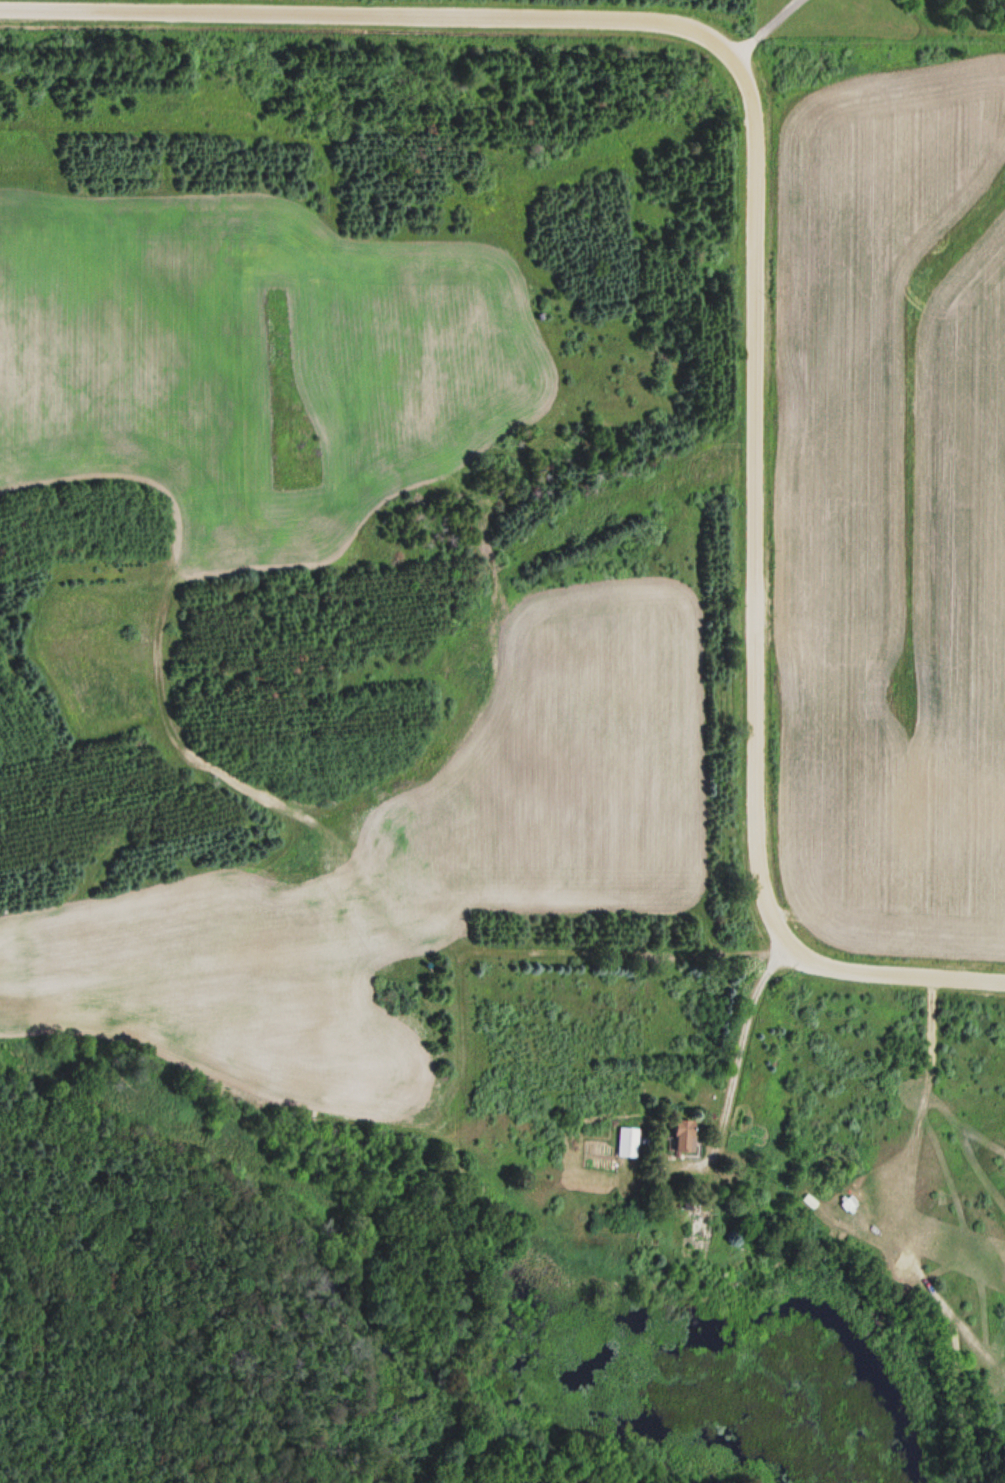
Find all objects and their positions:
road: (368, 16)
road: (754, 493)
road: (888, 974)
building: (682, 1135)
building: (625, 1141)

